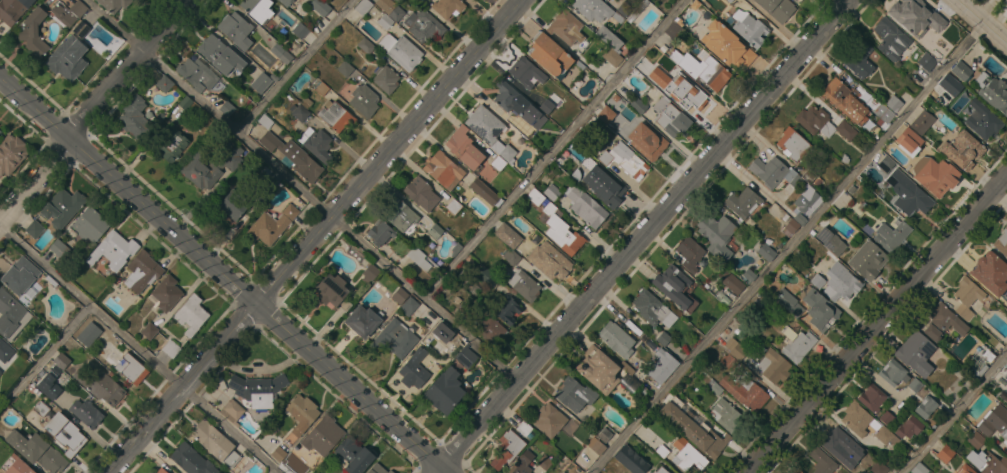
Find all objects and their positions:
building: (794, 0)
building: (729, 1)
road: (959, 1)
building: (285, 2)
building: (113, 4)
building: (319, 7)
building: (363, 7)
building: (447, 7)
building: (776, 8)
building: (13, 9)
building: (390, 9)
road: (985, 9)
building: (595, 10)
building: (260, 11)
building: (69, 12)
building: (914, 12)
building: (385, 21)
road: (981, 22)
building: (422, 25)
building: (565, 27)
building: (749, 28)
building: (236, 30)
building: (300, 30)
building: (672, 30)
building: (78, 31)
building: (33, 32)
building: (951, 37)
building: (608, 38)
building: (889, 39)
building: (726, 45)
building: (366, 46)
building: (401, 51)
building: (281, 53)
building: (220, 55)
building: (549, 55)
building: (612, 57)
building: (859, 60)
building: (926, 61)
building: (65, 62)
road: (297, 67)
building: (702, 68)
road: (126, 69)
building: (345, 69)
building: (961, 70)
building: (525, 72)
building: (197, 74)
building: (385, 79)
building: (260, 82)
building: (662, 83)
building: (164, 84)
building: (949, 85)
building: (319, 87)
building: (993, 92)
building: (693, 95)
building: (363, 101)
building: (845, 101)
building: (184, 102)
building: (517, 103)
building: (893, 103)
building: (546, 106)
building: (637, 106)
building: (227, 108)
building: (880, 111)
building: (300, 113)
building: (603, 113)
building: (336, 116)
building: (135, 118)
building: (670, 118)
building: (976, 118)
building: (815, 121)
building: (922, 122)
building: (614, 124)
building: (845, 129)
building: (0, 131)
building: (489, 131)
building: (0, 132)
building: (647, 139)
building: (908, 140)
building: (792, 144)
building: (172, 145)
building: (318, 146)
building: (463, 148)
road: (554, 150)
building: (961, 150)
building: (11, 153)
building: (292, 156)
building: (624, 160)
building: (498, 162)
building: (590, 164)
building: (885, 164)
building: (209, 167)
building: (441, 169)
building: (771, 171)
building: (934, 175)
building: (273, 179)
road: (35, 185)
building: (483, 191)
road: (301, 192)
building: (551, 192)
building: (608, 193)
building: (421, 194)
building: (908, 194)
building: (534, 196)
building: (807, 200)
building: (742, 202)
building: (233, 204)
building: (452, 206)
building: (585, 206)
building: (62, 207)
building: (401, 215)
building: (90, 224)
building: (272, 224)
building: (790, 227)
building: (34, 229)
building: (434, 231)
building: (560, 231)
building: (380, 232)
road: (646, 234)
building: (507, 235)
building: (717, 235)
building: (891, 235)
road: (316, 236)
building: (1001, 242)
building: (834, 245)
road: (787, 248)
building: (59, 249)
building: (113, 250)
building: (766, 252)
building: (689, 253)
building: (511, 257)
building: (418, 258)
building: (867, 260)
building: (548, 261)
building: (989, 268)
building: (142, 271)
road: (222, 271)
building: (369, 273)
building: (20, 276)
building: (485, 276)
building: (817, 281)
building: (732, 282)
building: (840, 283)
building: (524, 285)
building: (674, 287)
building: (332, 291)
building: (166, 293)
building: (399, 296)
building: (966, 296)
building: (1002, 299)
building: (788, 303)
building: (408, 306)
building: (649, 307)
building: (508, 310)
building: (820, 310)
building: (191, 314)
building: (11, 315)
building: (429, 318)
building: (362, 321)
building: (942, 322)
road: (877, 325)
building: (440, 327)
building: (149, 330)
building: (489, 330)
building: (663, 338)
building: (394, 339)
building: (616, 339)
building: (799, 347)
building: (170, 349)
building: (735, 349)
building: (5, 351)
road: (136, 351)
building: (915, 353)
building: (465, 356)
road: (44, 360)
building: (61, 360)
building: (729, 362)
building: (662, 366)
building: (773, 366)
building: (597, 369)
building: (131, 370)
building: (413, 371)
building: (0, 372)
building: (893, 373)
building: (1005, 376)
building: (49, 383)
building: (99, 385)
building: (915, 385)
building: (257, 389)
building: (715, 389)
building: (444, 391)
building: (745, 392)
building: (574, 394)
building: (872, 398)
building: (926, 407)
building: (40, 408)
building: (232, 411)
building: (86, 413)
building: (302, 414)
road: (955, 414)
building: (727, 416)
building: (886, 418)
building: (858, 419)
building: (549, 420)
building: (994, 422)
building: (908, 427)
building: (522, 428)
building: (692, 428)
building: (65, 433)
building: (323, 435)
building: (604, 435)
building: (886, 436)
building: (975, 439)
building: (215, 443)
building: (836, 444)
building: (595, 446)
building: (507, 449)
building: (36, 450)
building: (278, 454)
building: (945, 454)
building: (353, 455)
building: (686, 455)
building: (191, 460)
building: (630, 460)
building: (821, 461)
building: (544, 462)
building: (987, 462)
building: (295, 463)
building: (521, 463)
building: (15, 465)
building: (878, 467)
building: (919, 468)
building: (377, 469)
building: (964, 469)
road: (440, 470)
road: (445, 470)
building: (660, 470)
building: (160, 471)
road: (275, 471)
road: (278, 471)
building: (796, 471)
building: (561, 472)
building: (563, 472)

